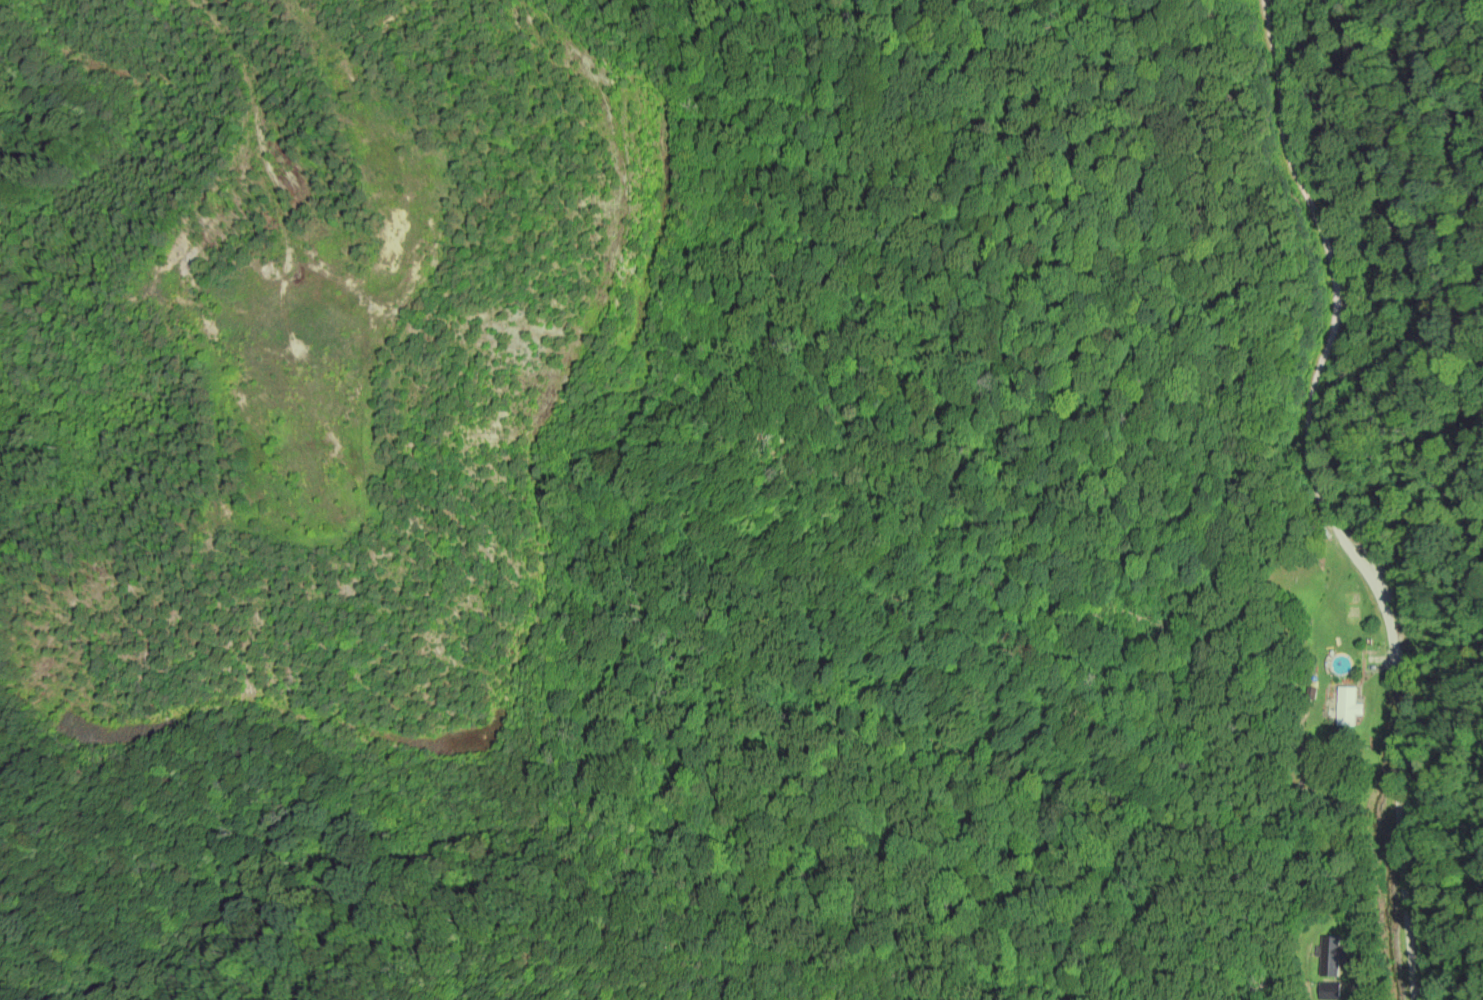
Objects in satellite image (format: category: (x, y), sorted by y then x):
road: (1274, 499)
building: (1348, 705)

